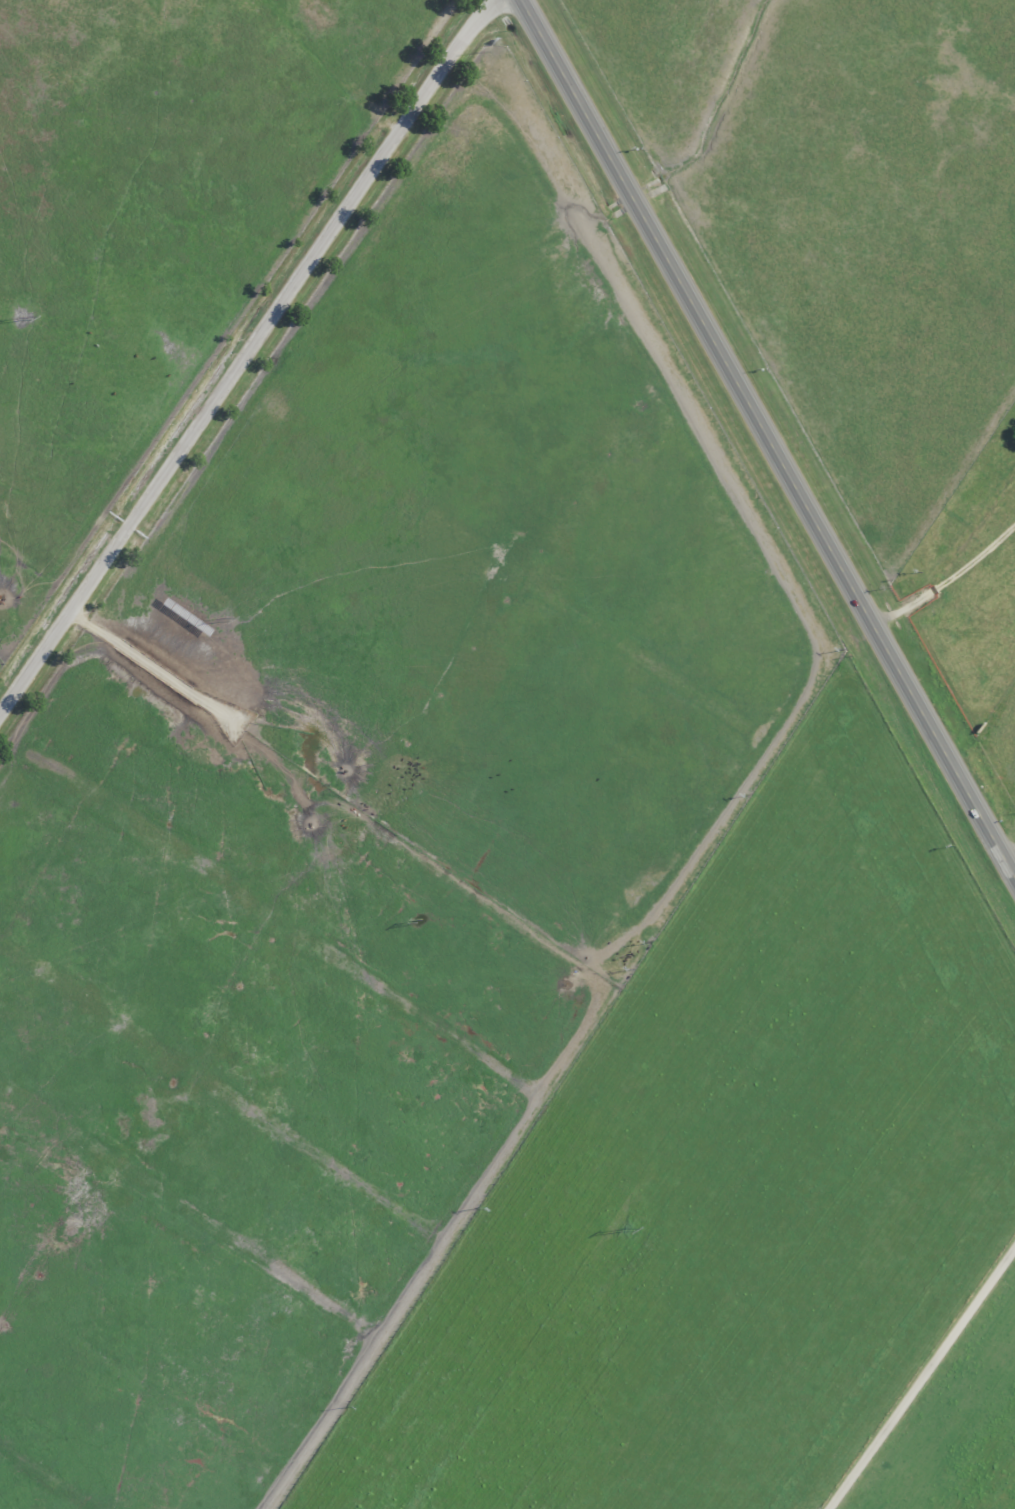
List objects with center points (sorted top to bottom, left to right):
power tower: (23, 317)
road: (245, 353)
road: (772, 432)
power tower: (221, 619)
power tower: (417, 918)
power tower: (619, 1226)
road: (918, 1368)

